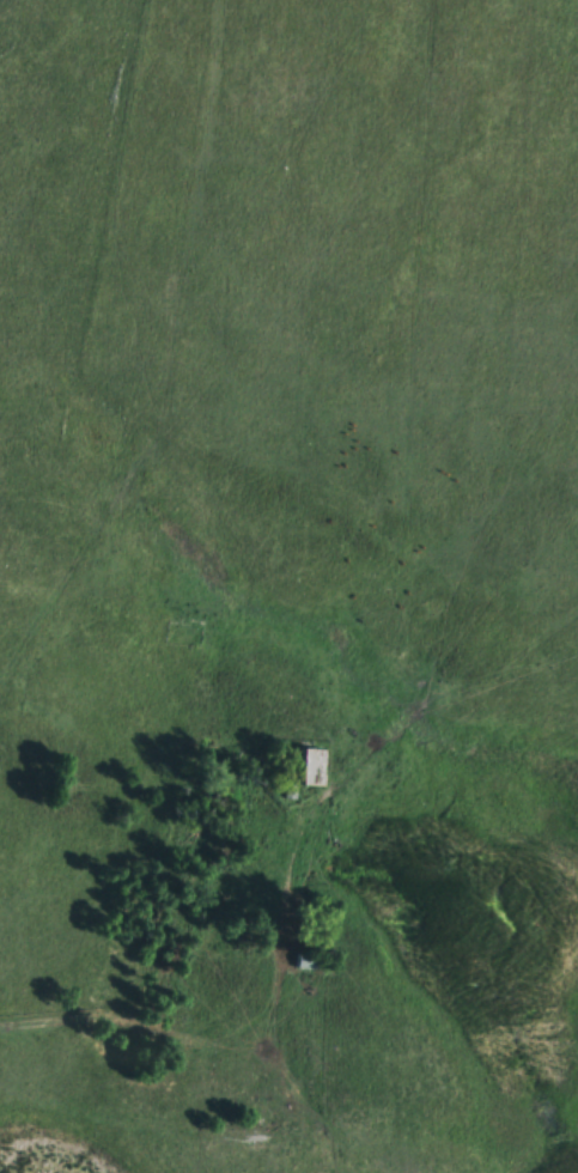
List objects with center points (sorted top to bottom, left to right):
building: (299, 764)
building: (306, 959)

